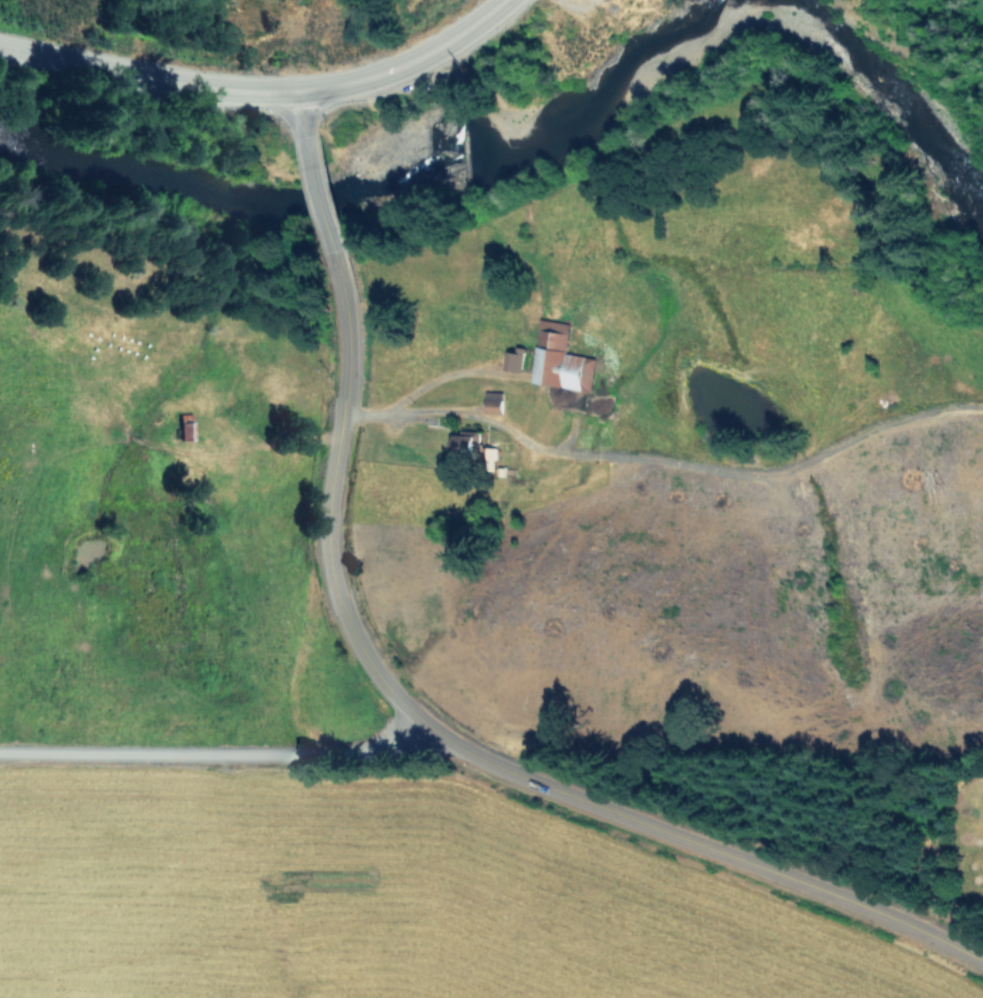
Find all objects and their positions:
road: (262, 89)
road: (302, 127)
road: (322, 206)
building: (559, 357)
building: (494, 401)
road: (409, 410)
building: (185, 426)
crop: (308, 581)
road: (404, 733)
road: (467, 754)
road: (234, 756)

